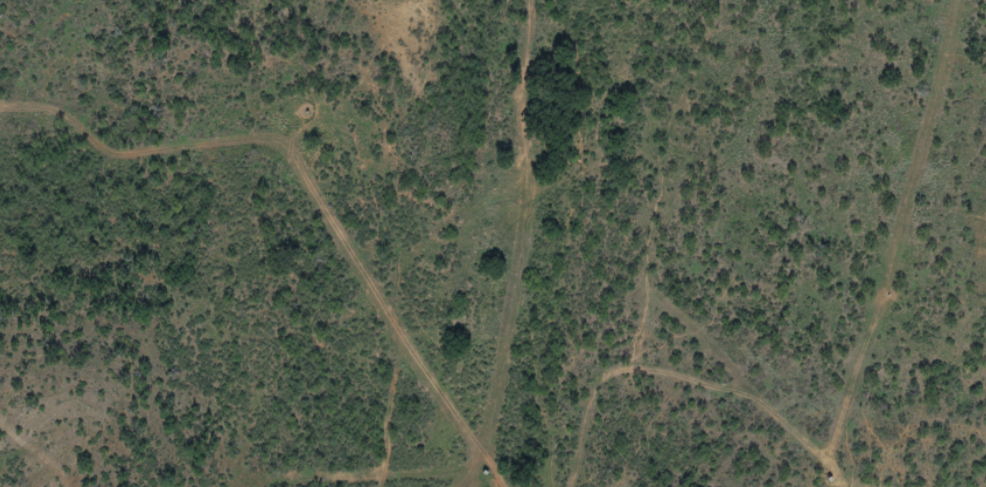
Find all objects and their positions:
road: (464, 232)

